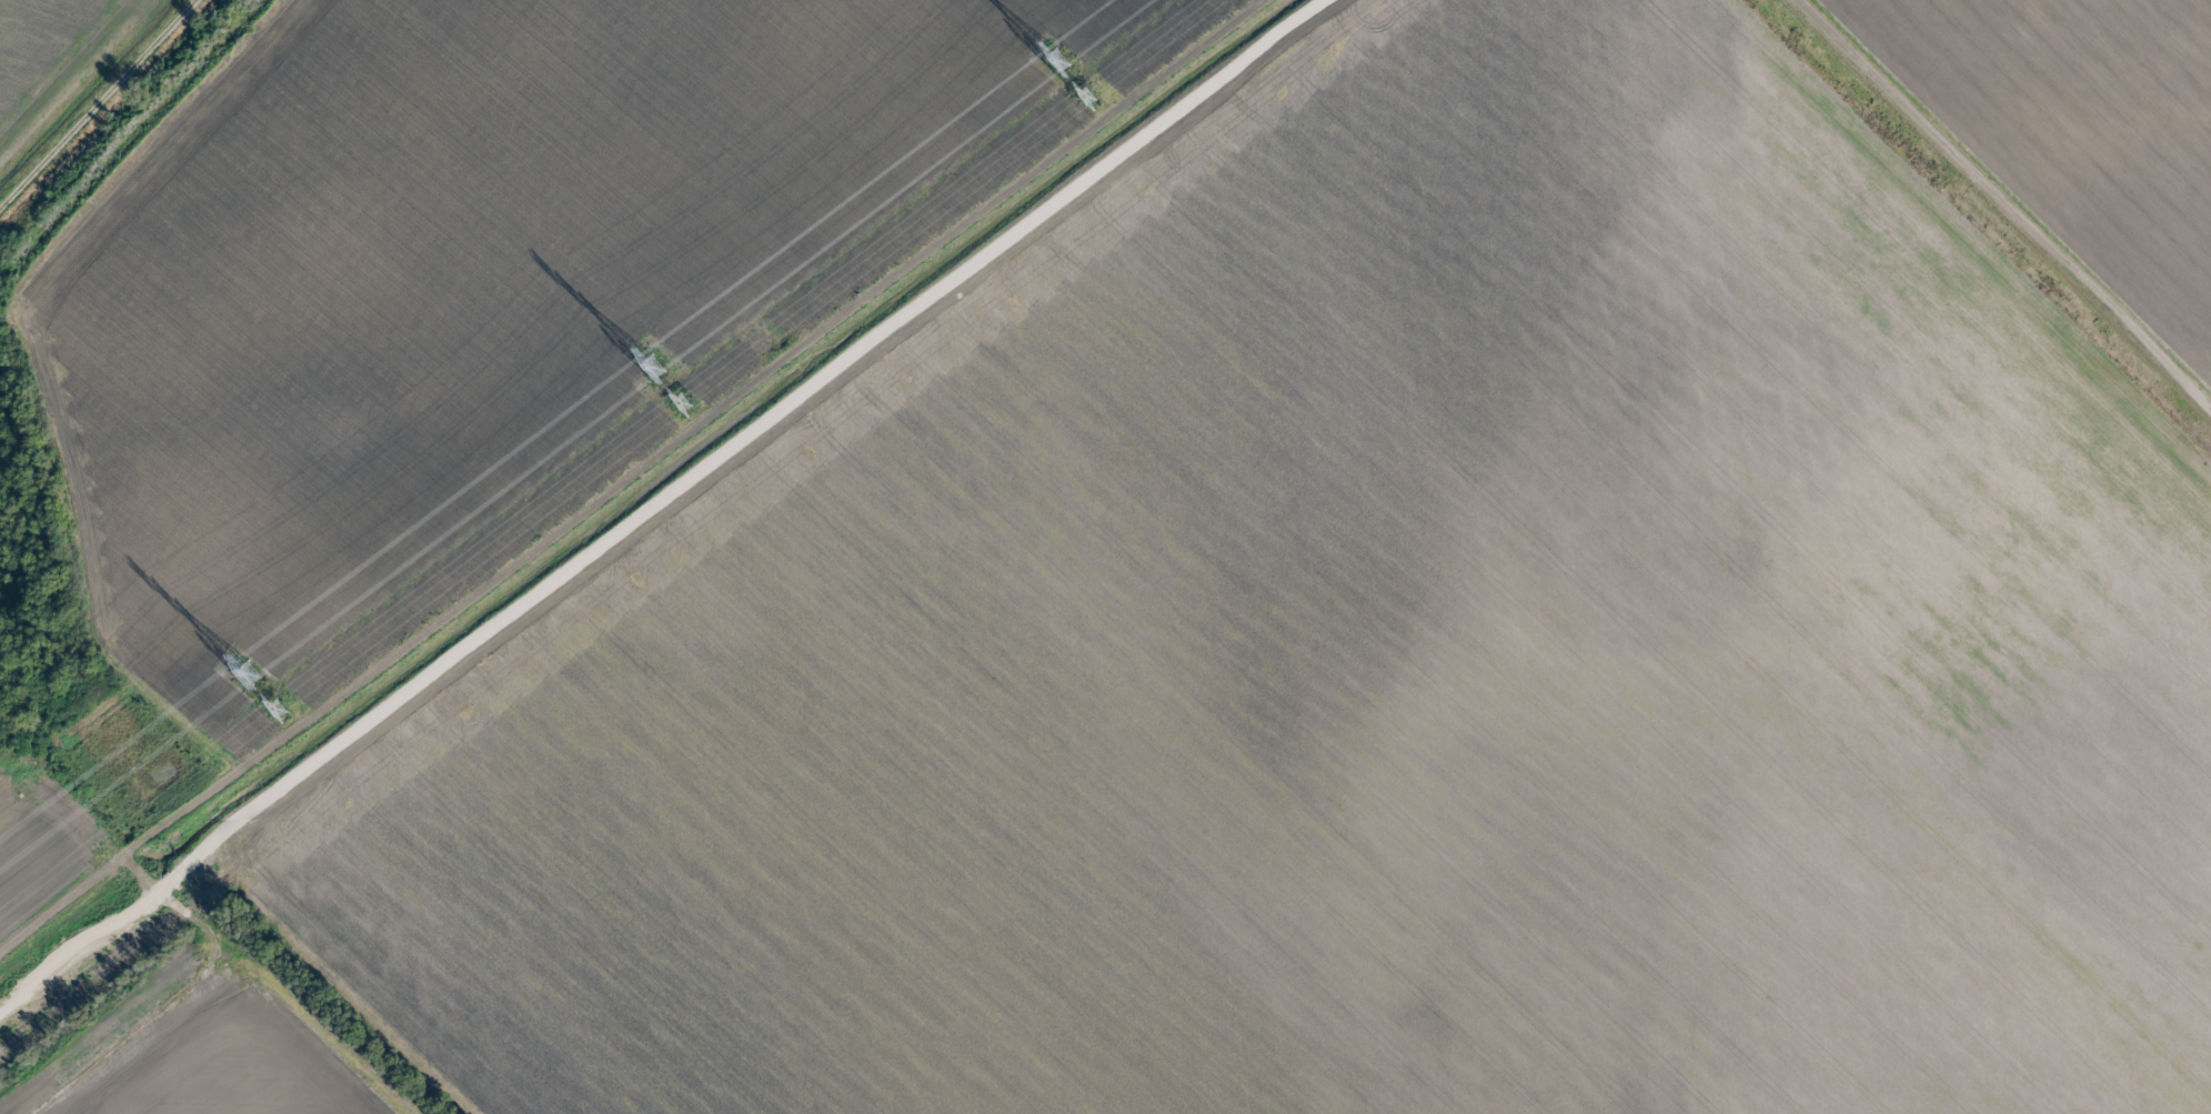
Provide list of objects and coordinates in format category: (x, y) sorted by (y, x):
power tower: (1056, 59)
power tower: (1083, 96)
power tower: (652, 367)
power tower: (680, 403)
railway: (643, 496)
power tower: (249, 672)
power tower: (275, 709)

